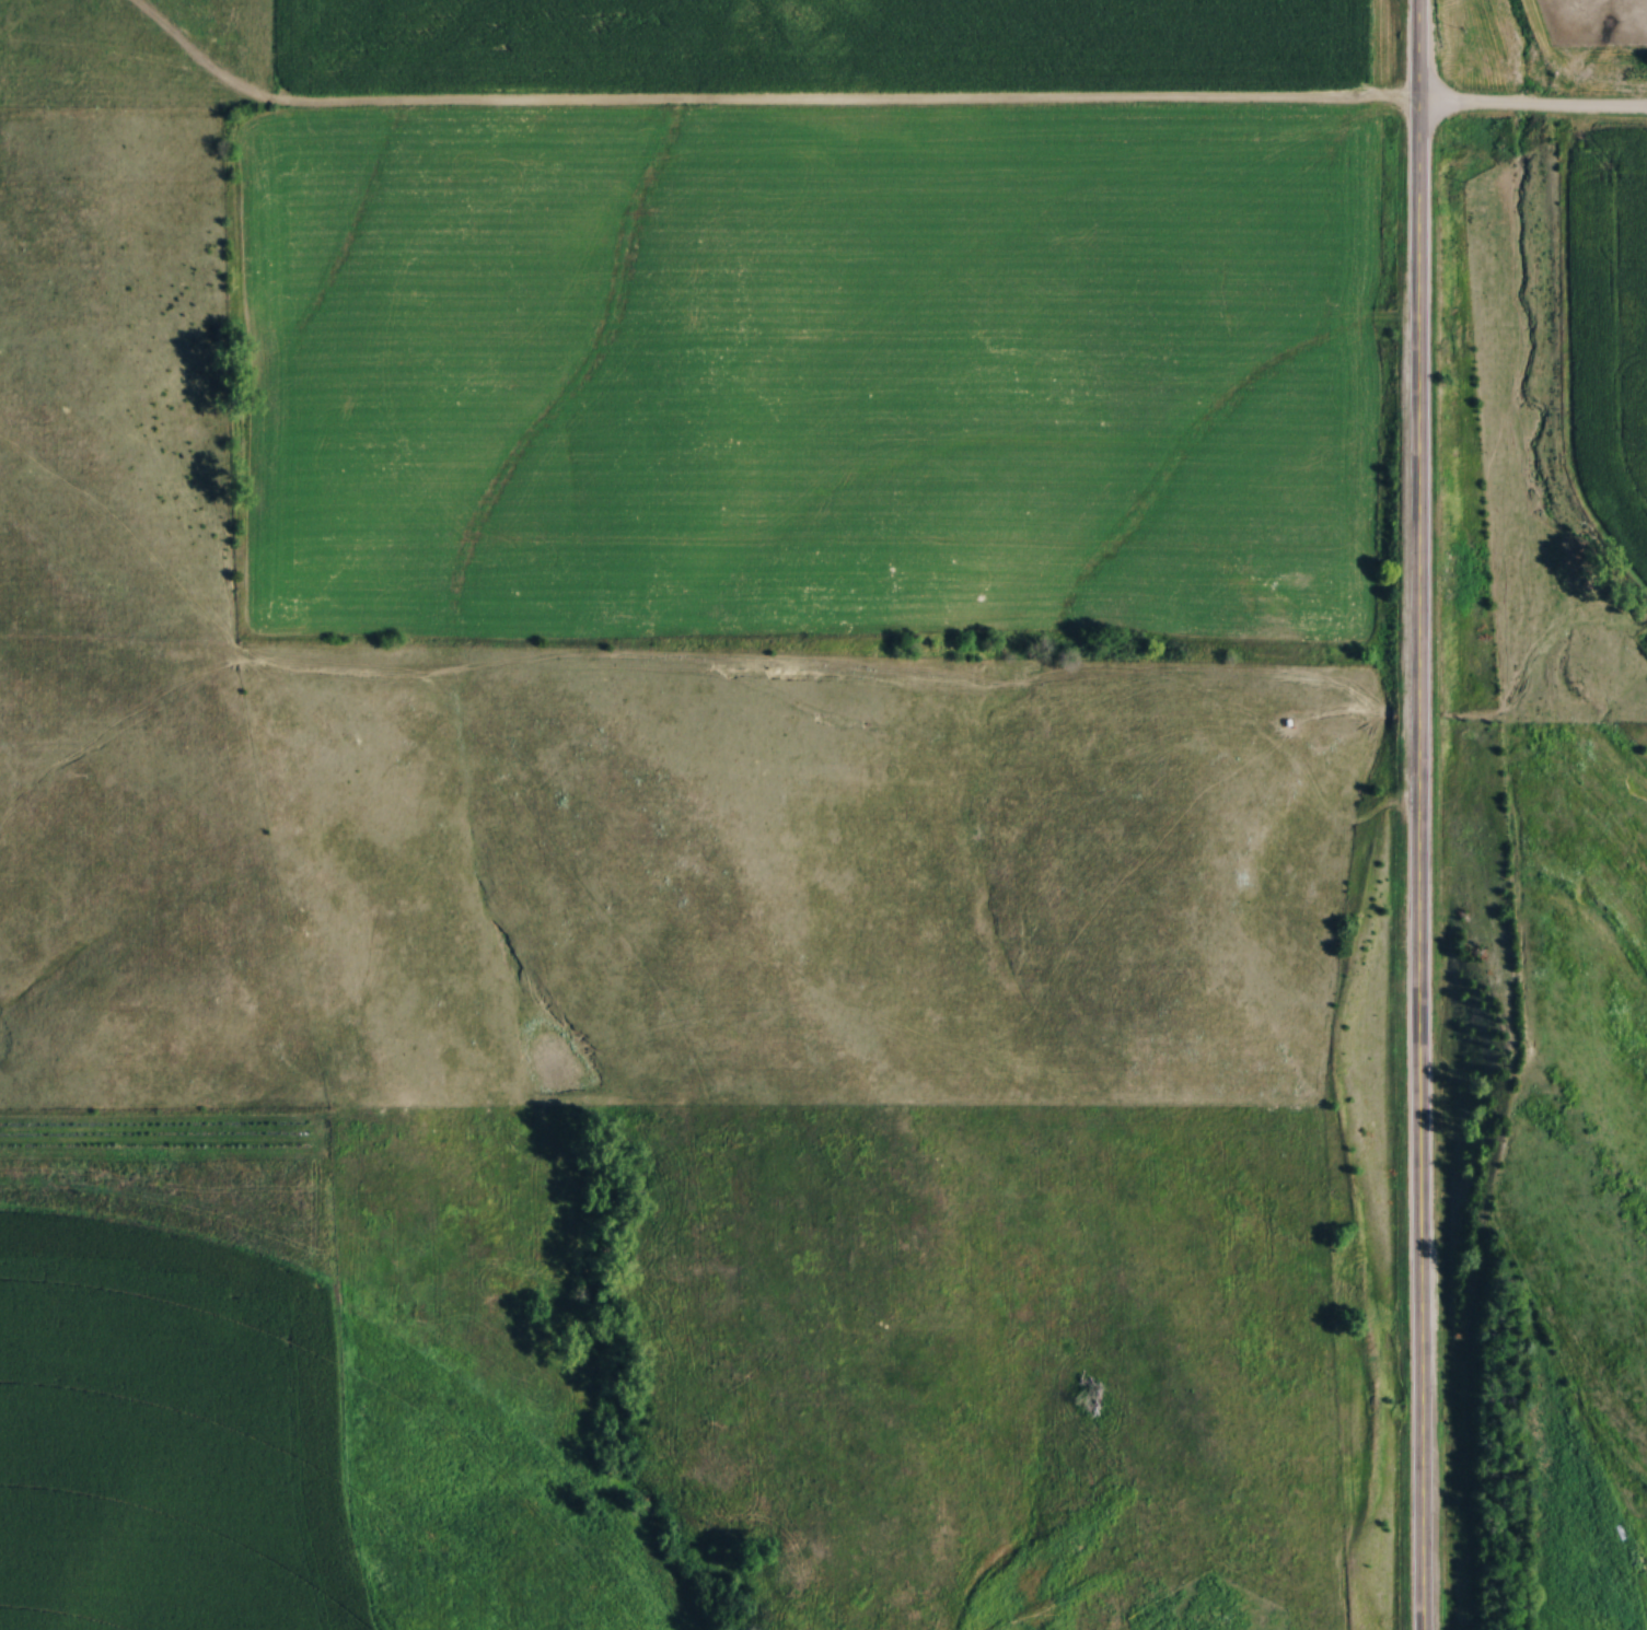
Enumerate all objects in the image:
road: (1532, 112)
road: (1417, 815)

